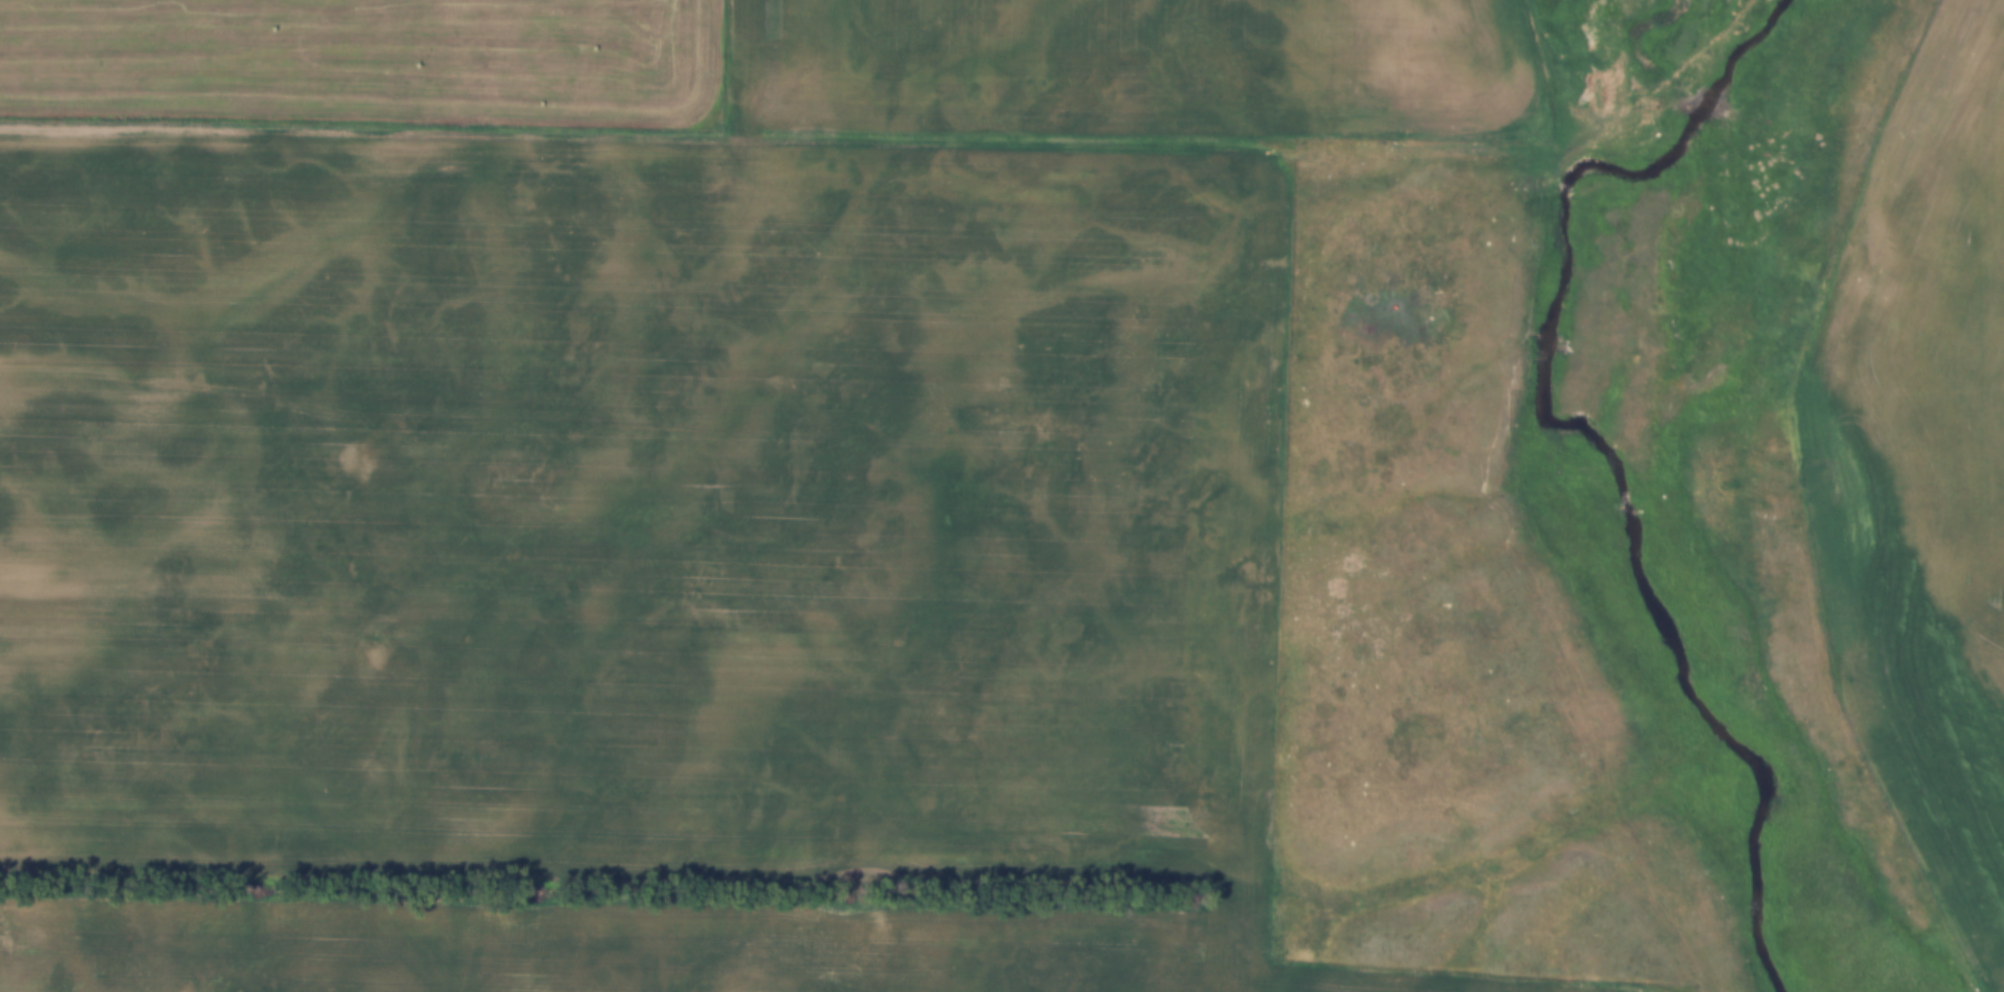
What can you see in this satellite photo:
road: (365, 126)

